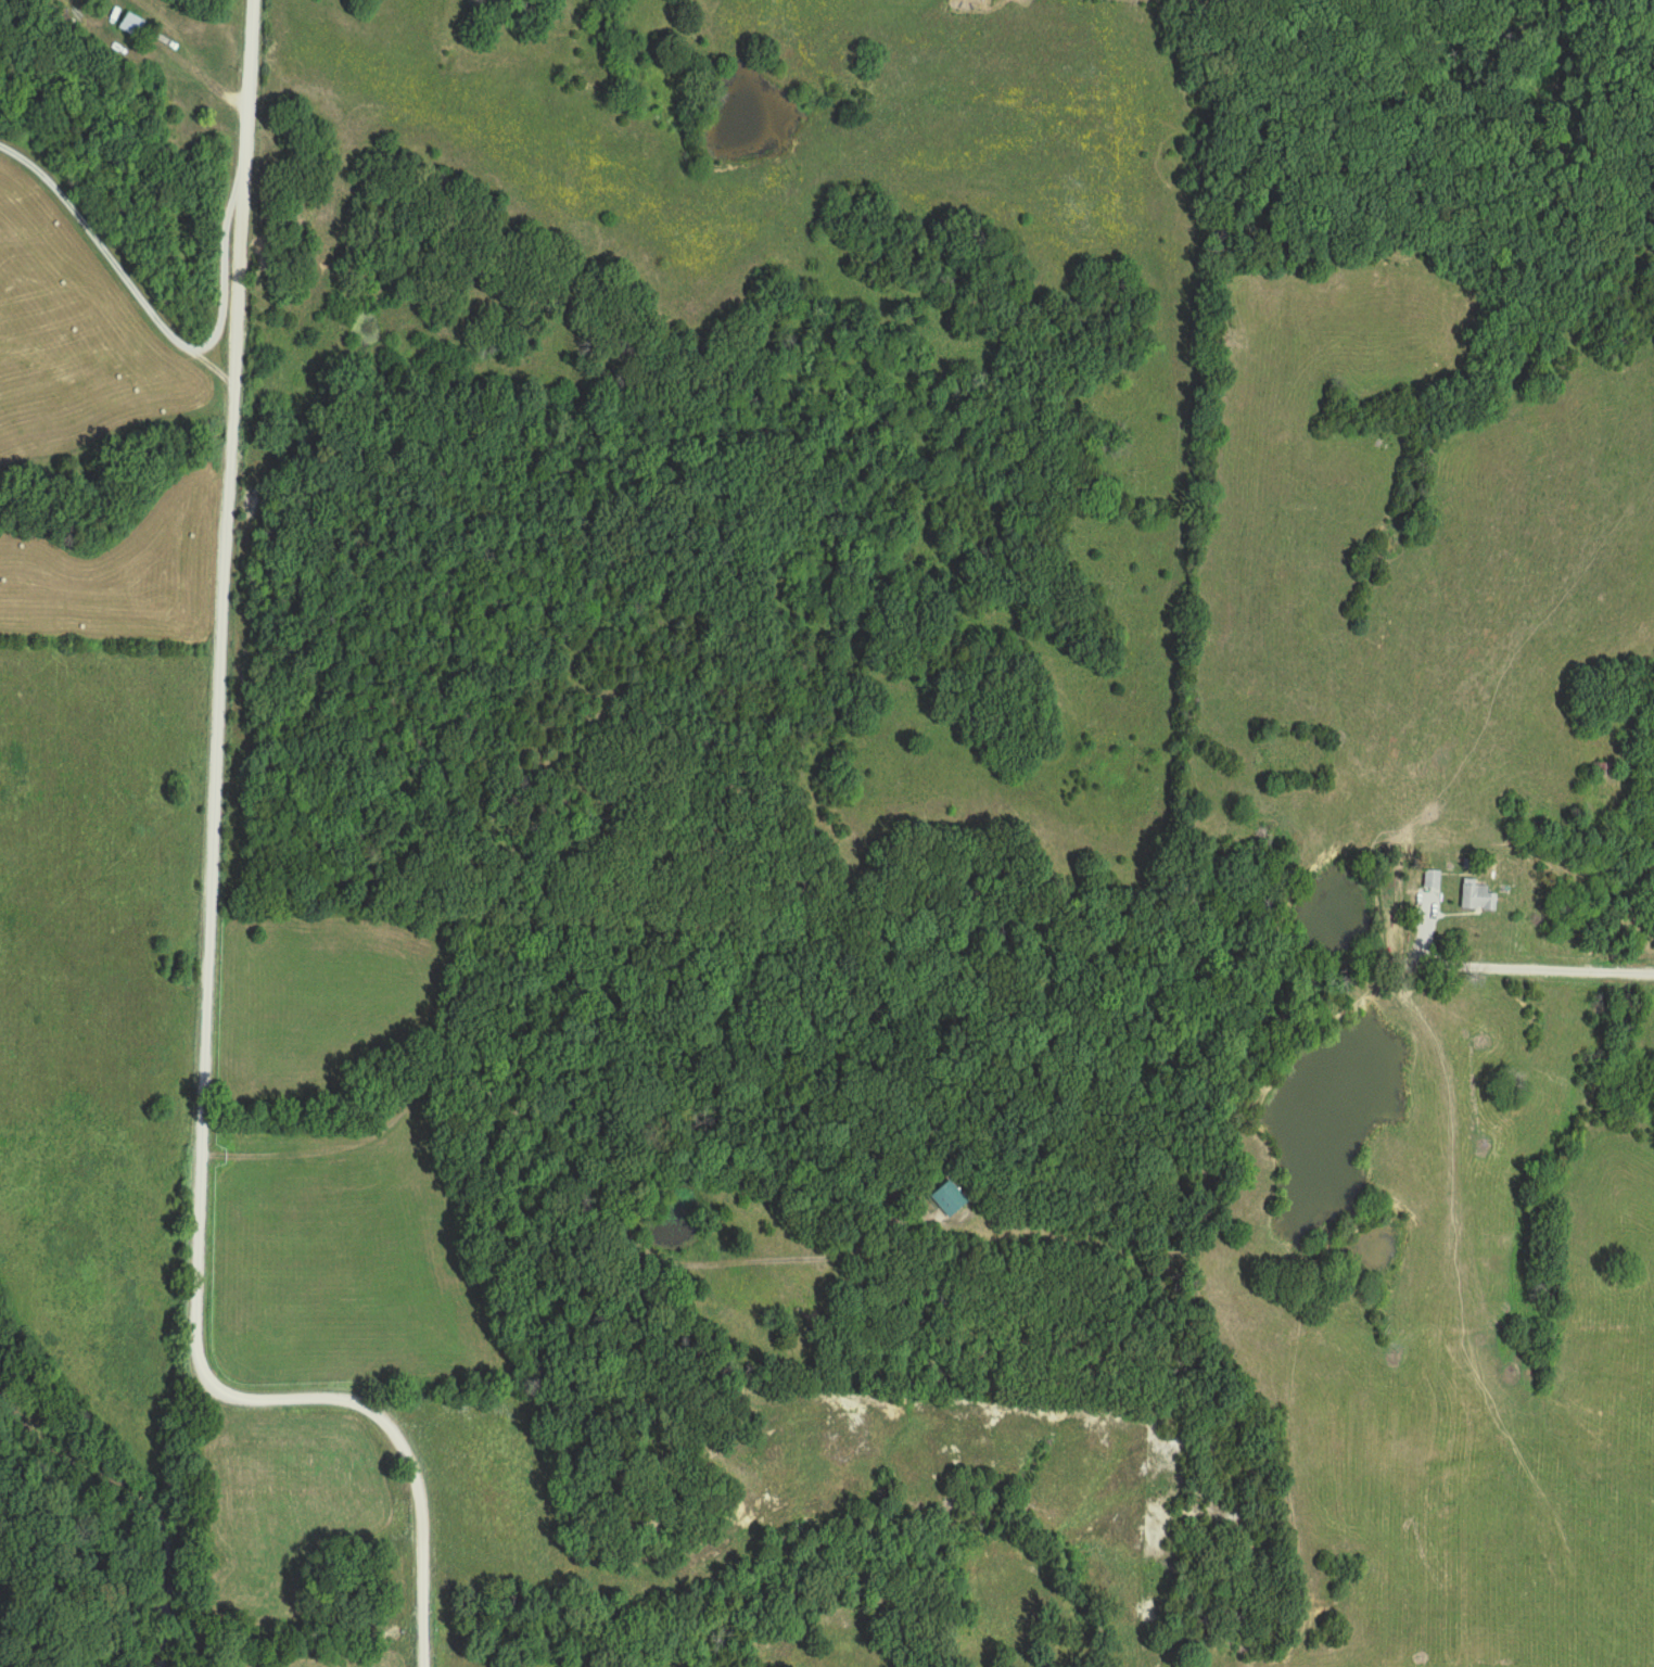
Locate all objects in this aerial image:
building: (132, 24)
road: (190, 56)
road: (151, 310)
road: (231, 577)
building: (1606, 772)
building: (1433, 880)
building: (1477, 898)
road: (1425, 929)
road: (1544, 968)
building: (950, 1200)
road: (1008, 1233)
road: (309, 1399)

